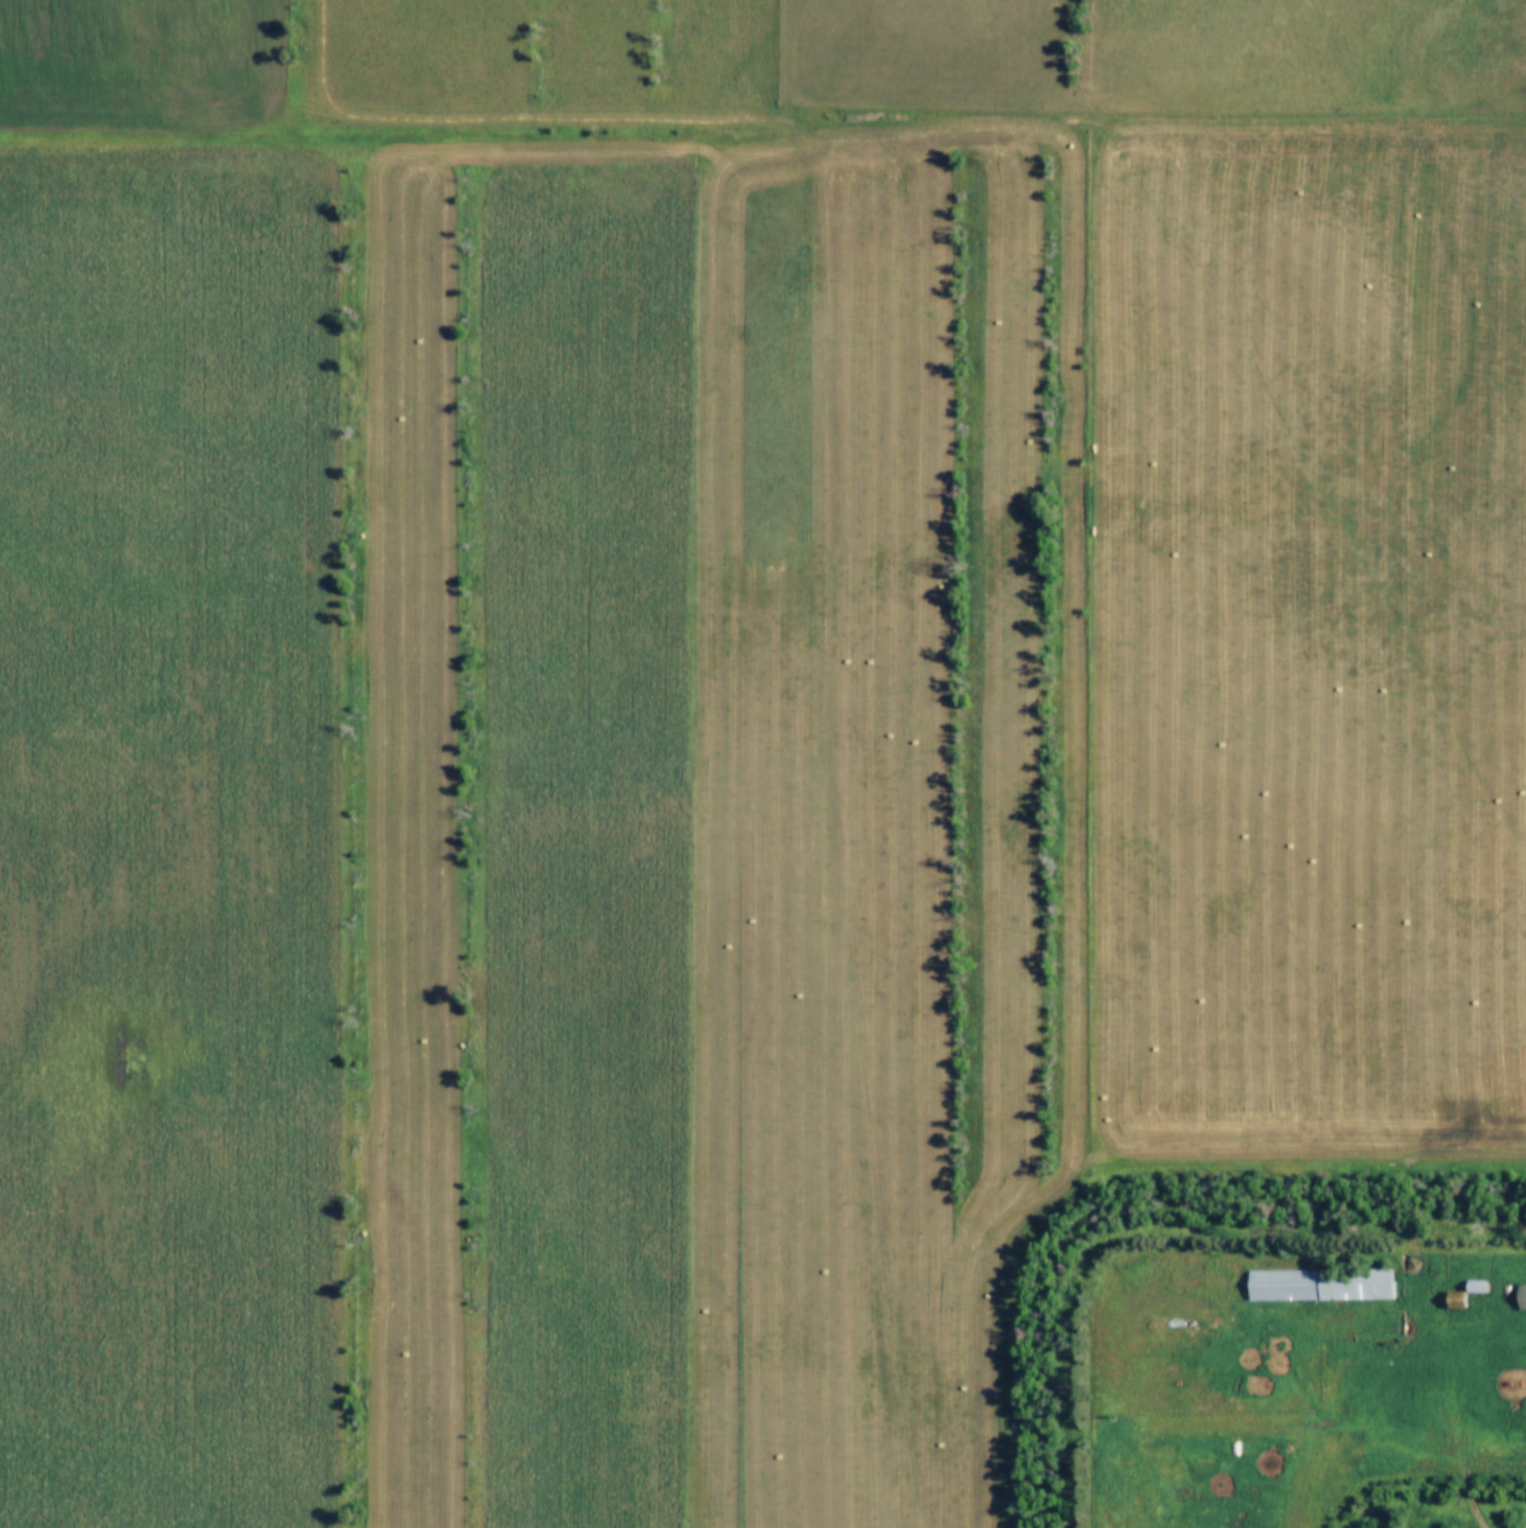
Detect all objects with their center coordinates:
building: (1467, 1282)
building: (1313, 1284)
building: (1471, 1288)
building: (1519, 1298)
building: (1448, 1301)

